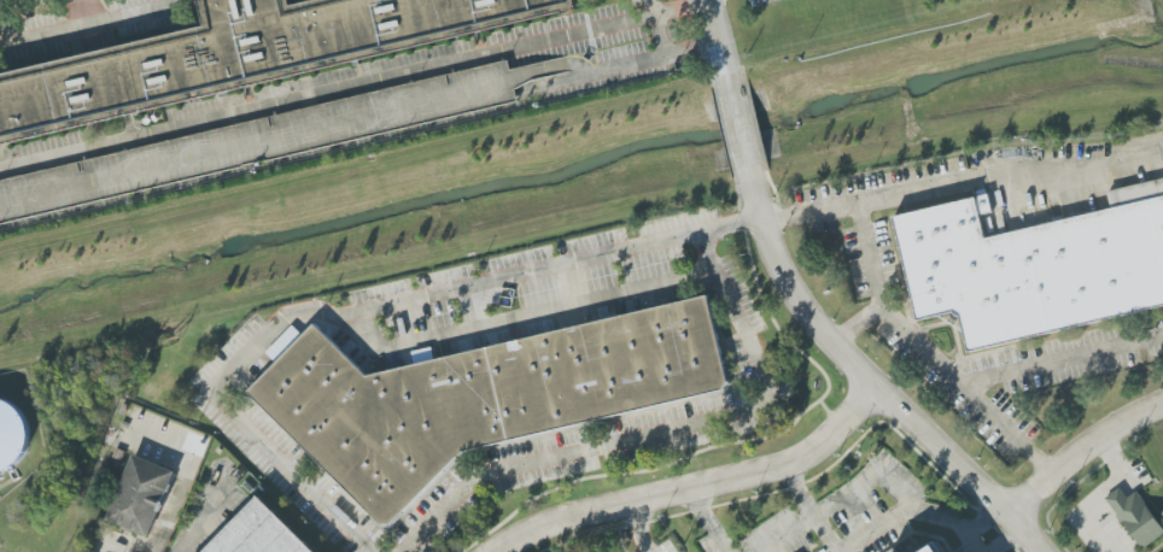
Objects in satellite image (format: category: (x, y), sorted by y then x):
road: (82, 12)
building: (235, 53)
road: (641, 66)
road: (725, 71)
road: (270, 146)
road: (1153, 146)
road: (952, 183)
road: (730, 222)
building: (1031, 270)
road: (877, 286)
road: (519, 317)
road: (335, 318)
road: (855, 370)
road: (1010, 370)
building: (483, 395)
road: (1010, 431)
road: (660, 433)
building: (12, 435)
road: (1083, 458)
road: (705, 491)
road: (1098, 494)
building: (141, 495)
road: (841, 500)
road: (174, 503)
road: (913, 510)
building: (1135, 517)
road: (982, 519)
road: (708, 523)
road: (803, 525)
road: (198, 527)
road: (638, 530)
building: (259, 533)
road: (1005, 540)
building: (934, 550)

